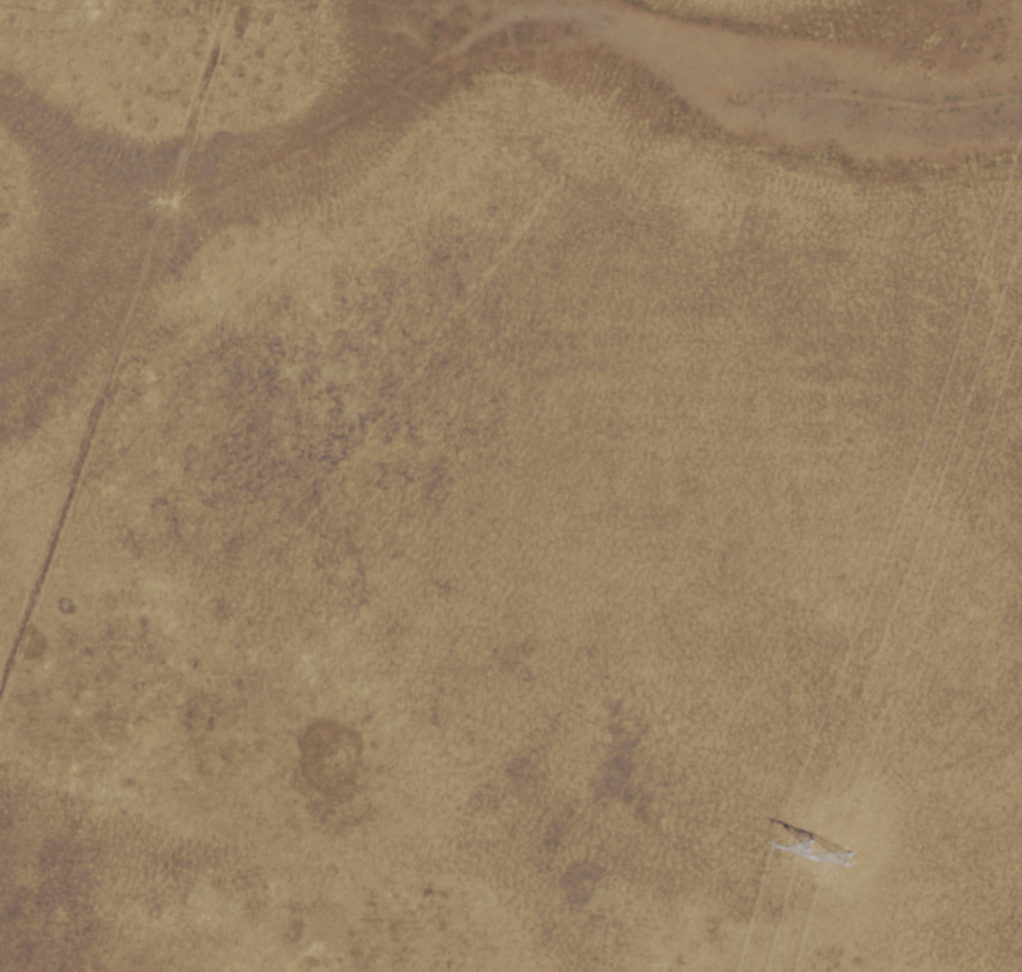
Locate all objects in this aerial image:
power tower: (837, 889)

